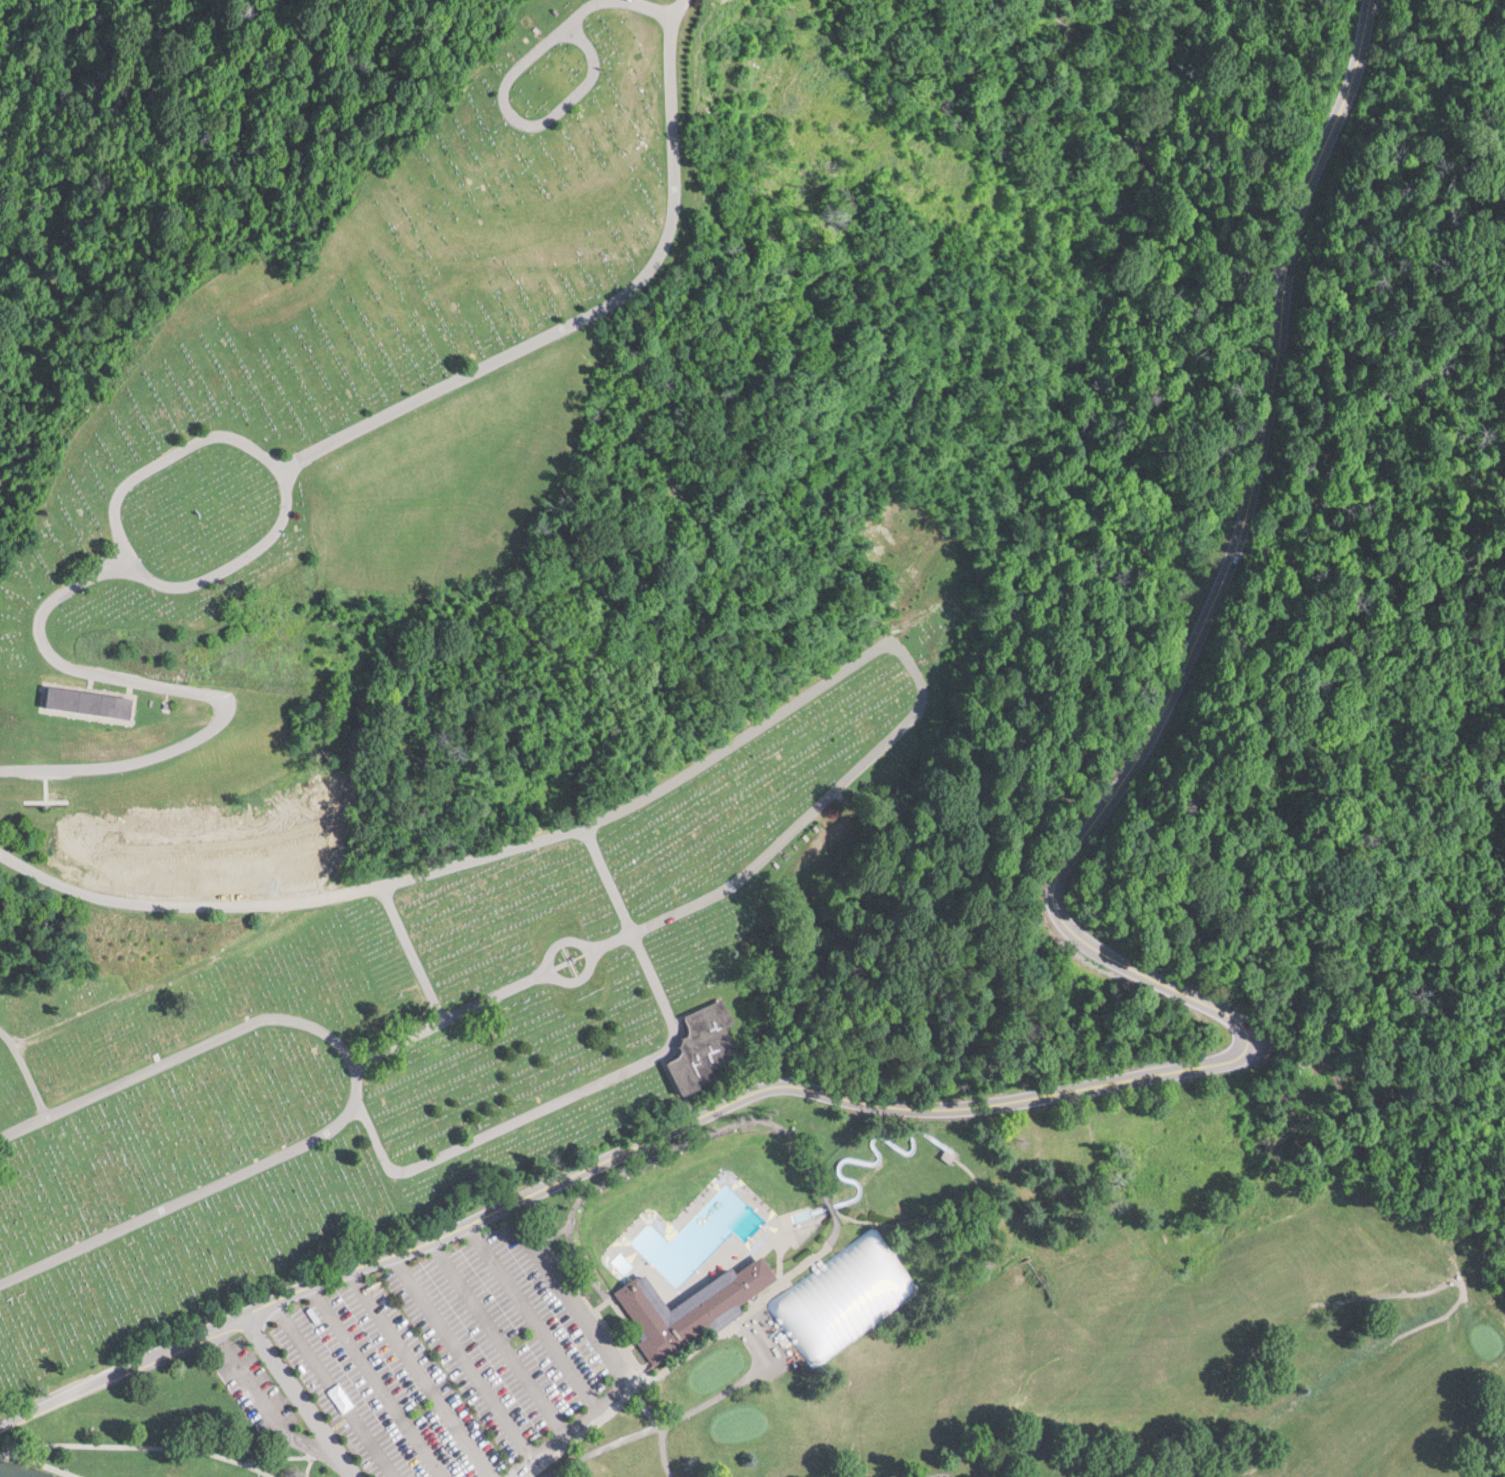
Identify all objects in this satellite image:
road: (1216, 581)
park: (220, 654)
building: (93, 701)
building: (707, 1045)
road: (735, 1099)
building: (842, 1295)
park: (586, 1298)
building: (691, 1308)
road: (536, 1315)
road: (498, 1336)
park: (1132, 1349)
road: (464, 1354)
road: (609, 1358)
parking lot: (446, 1360)
road: (124, 1367)
road: (422, 1372)
road: (379, 1380)
road: (334, 1388)
road: (299, 1394)
road: (263, 1400)

